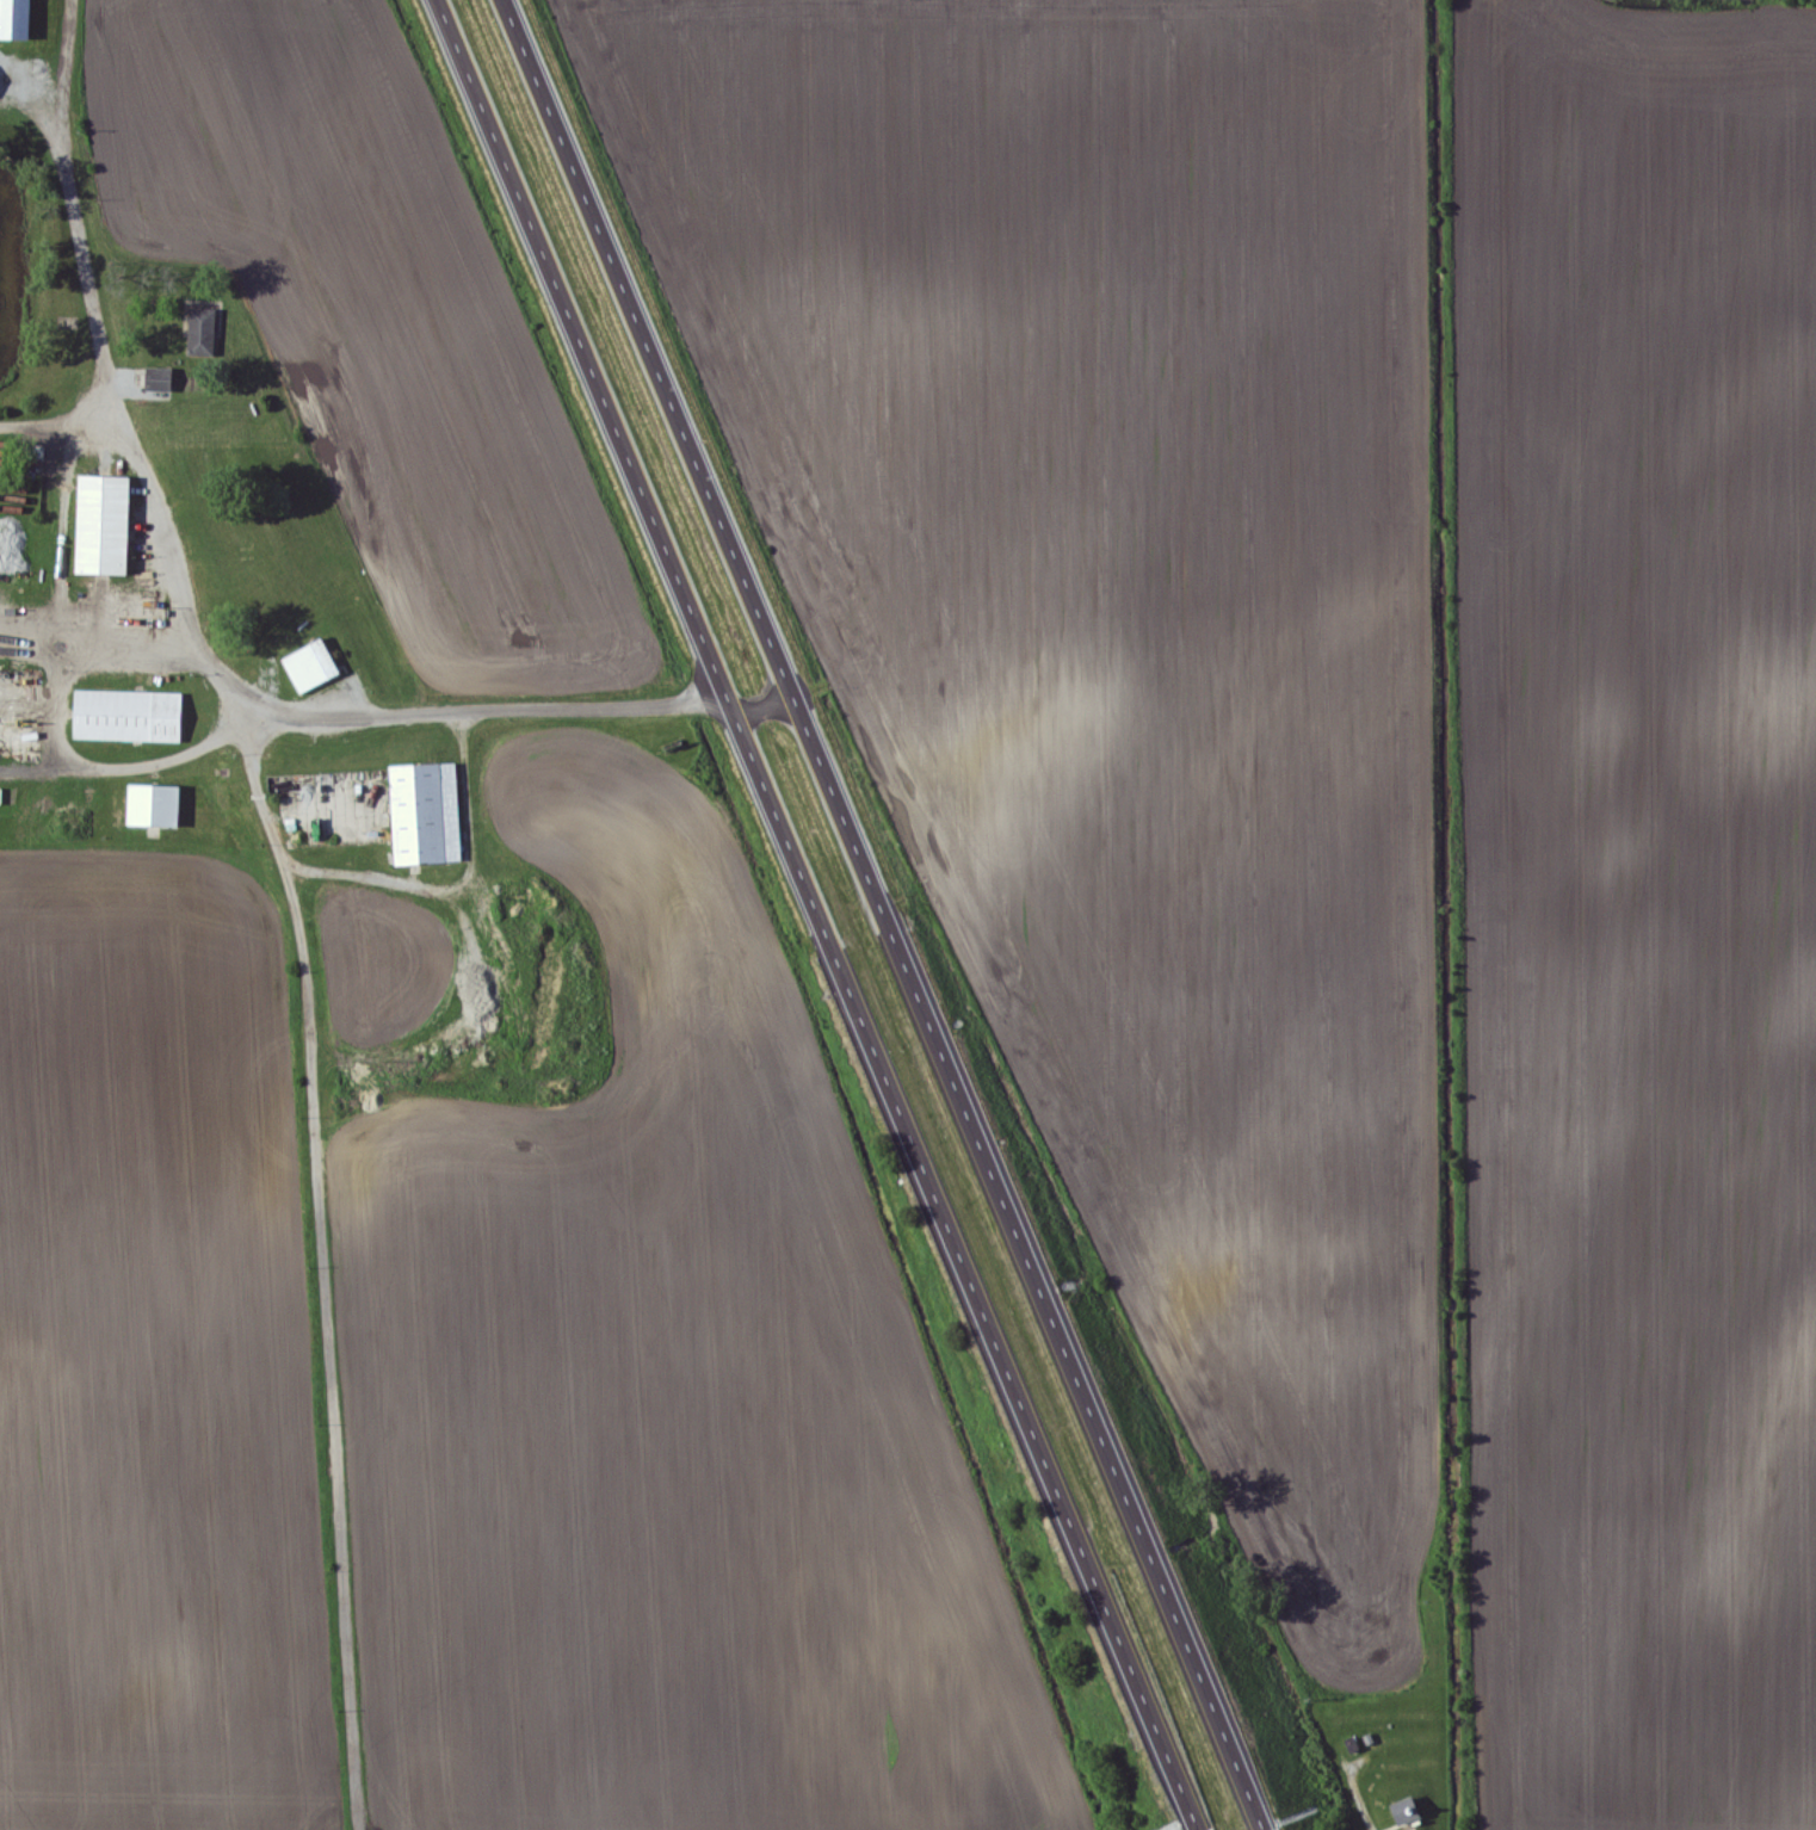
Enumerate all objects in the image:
building: (26, 20)
road: (36, 72)
building: (210, 334)
building: (168, 382)
road: (64, 425)
building: (115, 528)
road: (185, 614)
road: (101, 635)
building: (310, 666)
road: (773, 686)
building: (137, 718)
road: (92, 768)
building: (165, 809)
building: (426, 814)
road: (457, 884)
road: (834, 913)
road: (902, 914)
road: (332, 1275)
road: (1359, 1795)
building: (1402, 1810)

